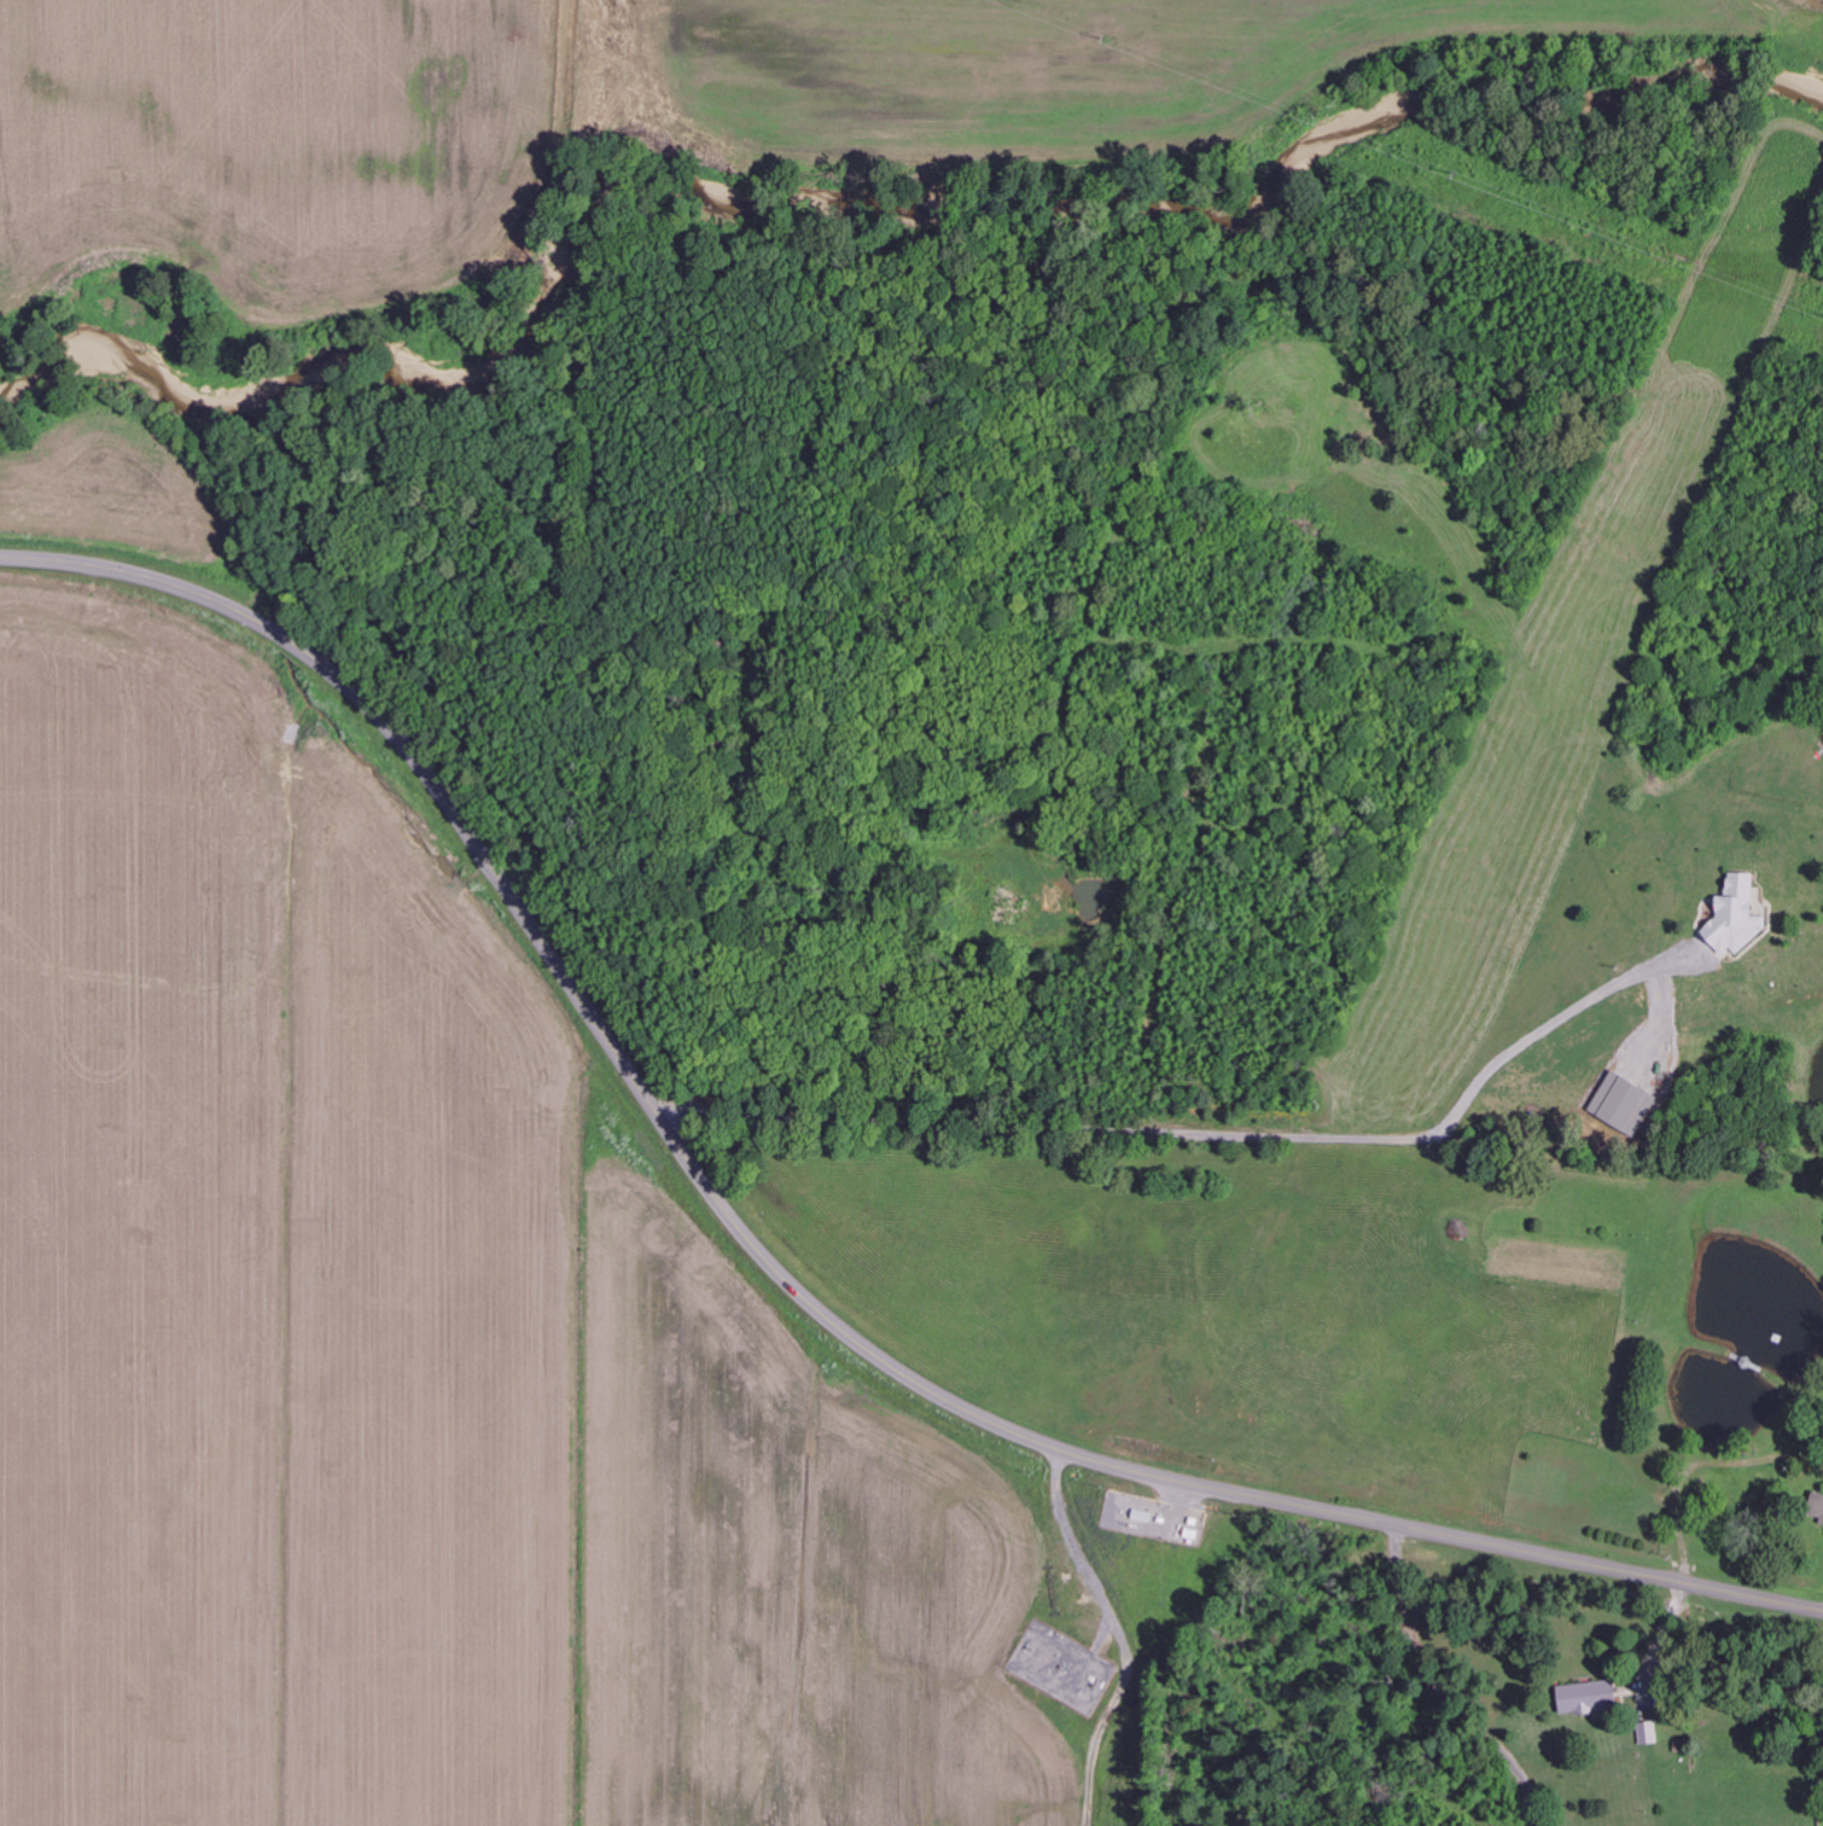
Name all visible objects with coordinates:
building: (1736, 917)
road: (641, 1089)
building: (1624, 1104)
road: (1252, 1135)
building: (1817, 1504)
building: (1822, 1520)
road: (1594, 1568)
road: (1435, 1685)
building: (1589, 1697)
building: (1649, 1732)

